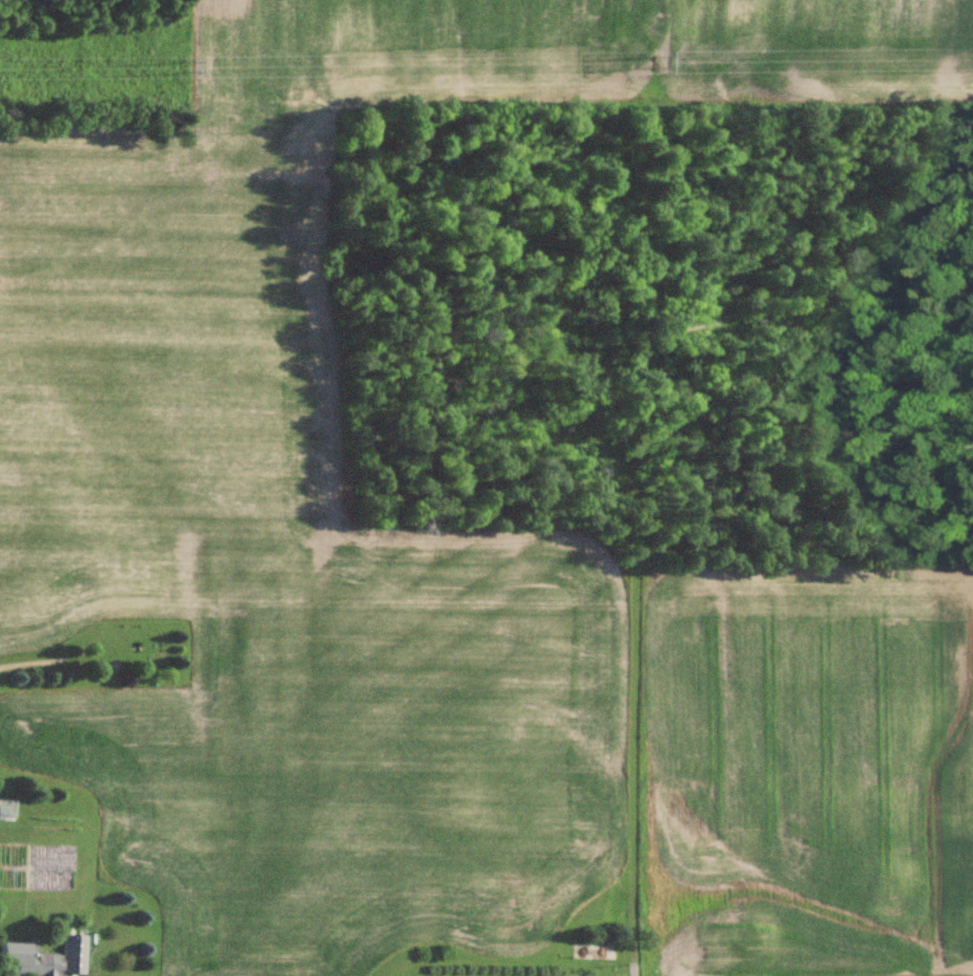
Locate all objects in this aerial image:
building: (45, 958)

